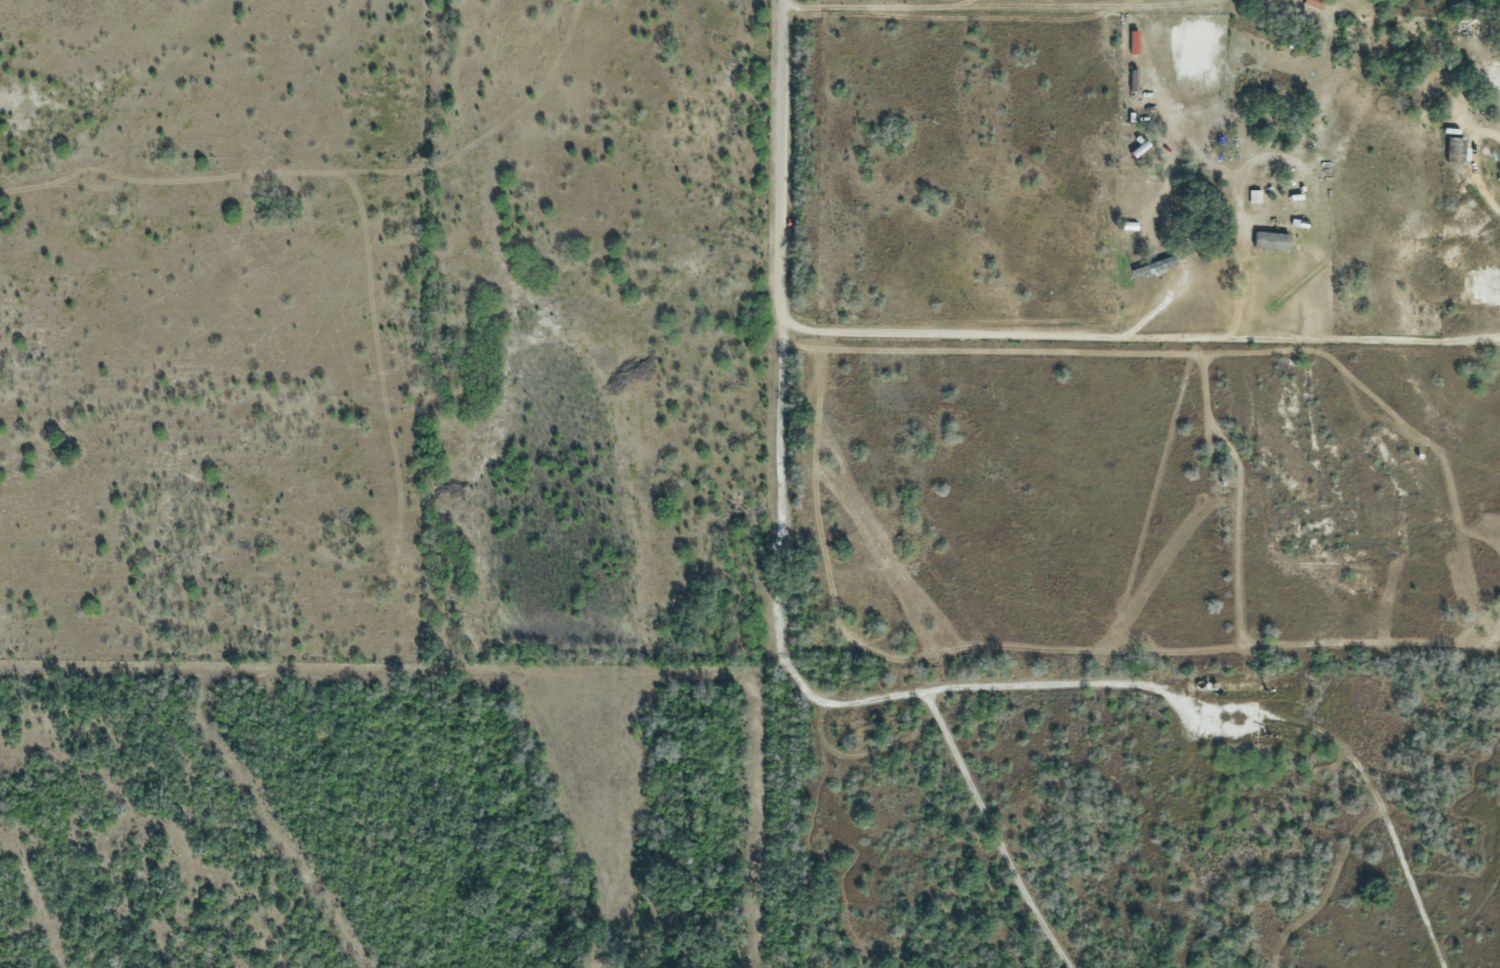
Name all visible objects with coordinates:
road: (776, 160)
building: (1266, 241)
building: (1149, 267)
road: (1137, 337)
road: (810, 699)

